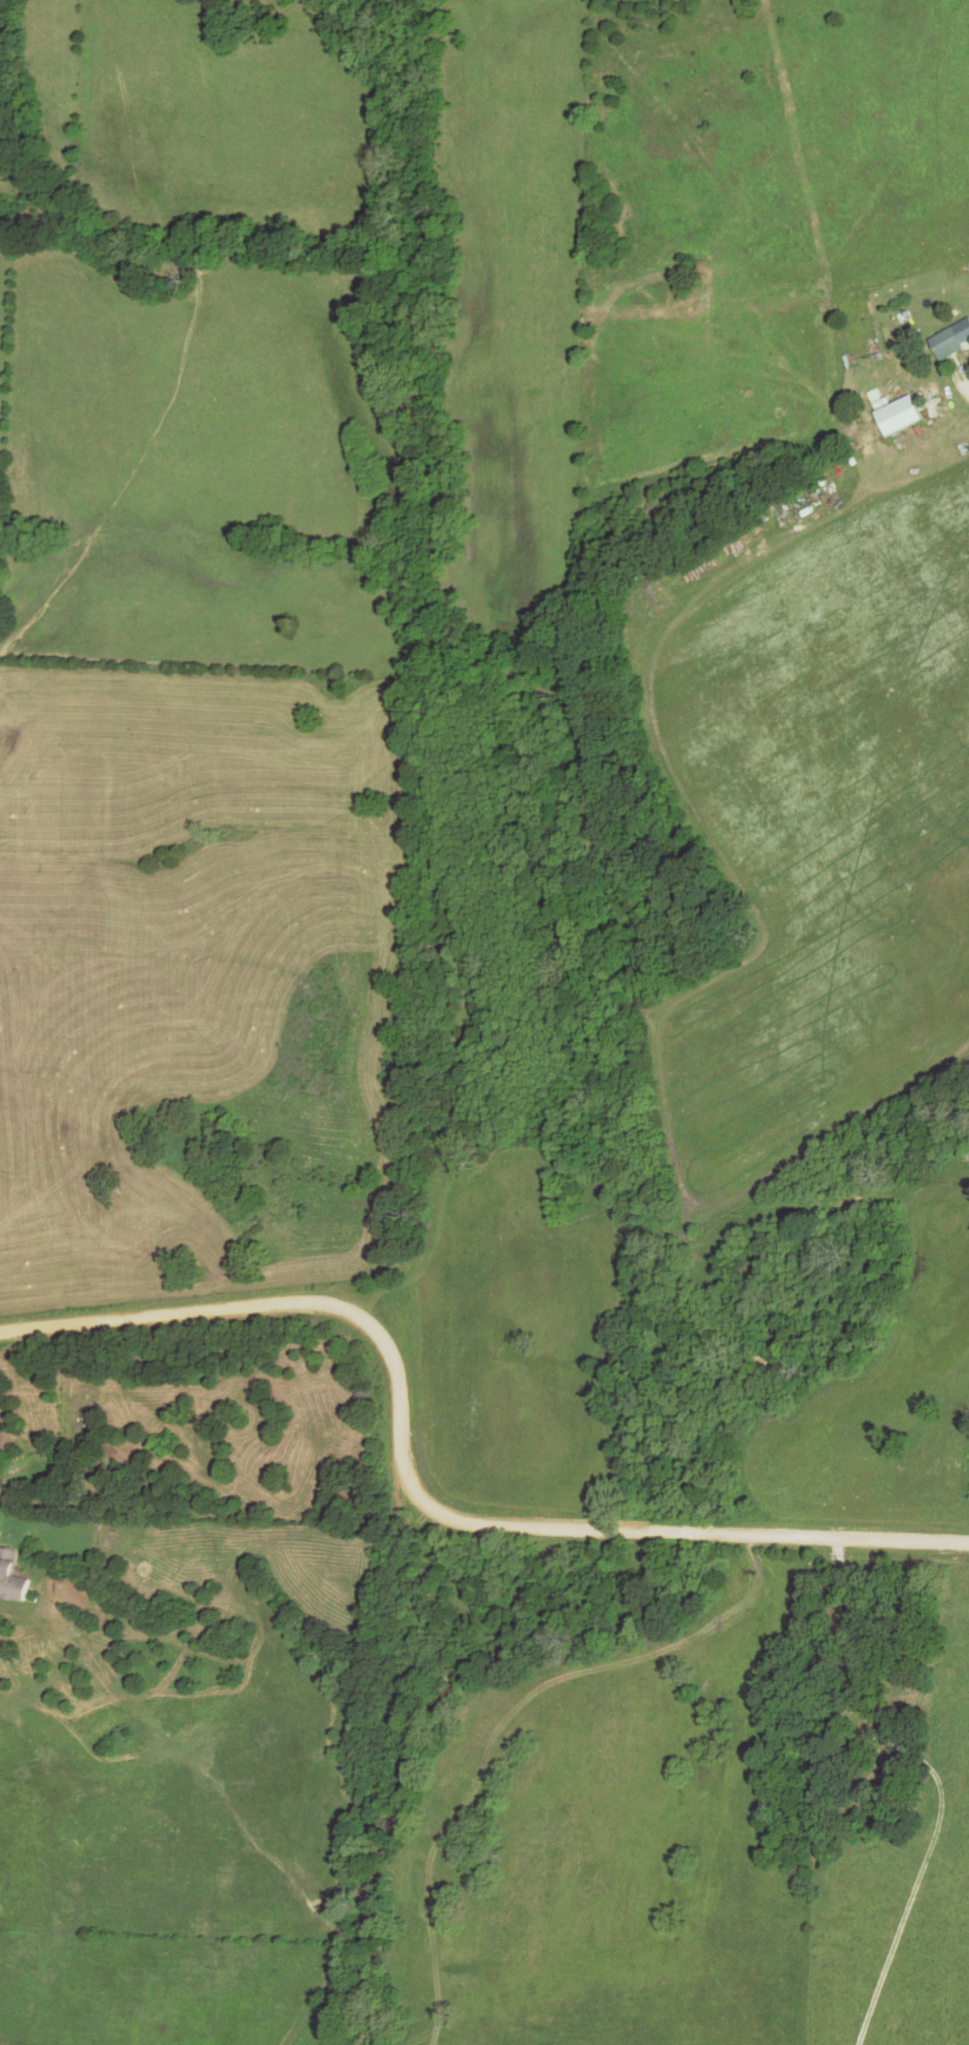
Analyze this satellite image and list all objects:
building: (946, 342)
road: (967, 382)
road: (416, 1505)
building: (14, 1575)

